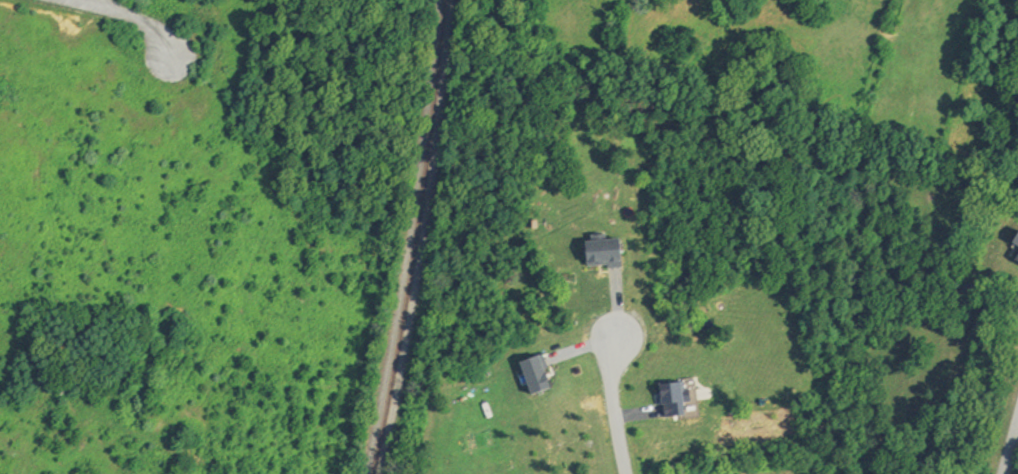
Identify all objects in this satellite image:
road: (136, 16)
railway: (423, 238)
building: (610, 253)
road: (617, 408)
road: (1010, 450)

